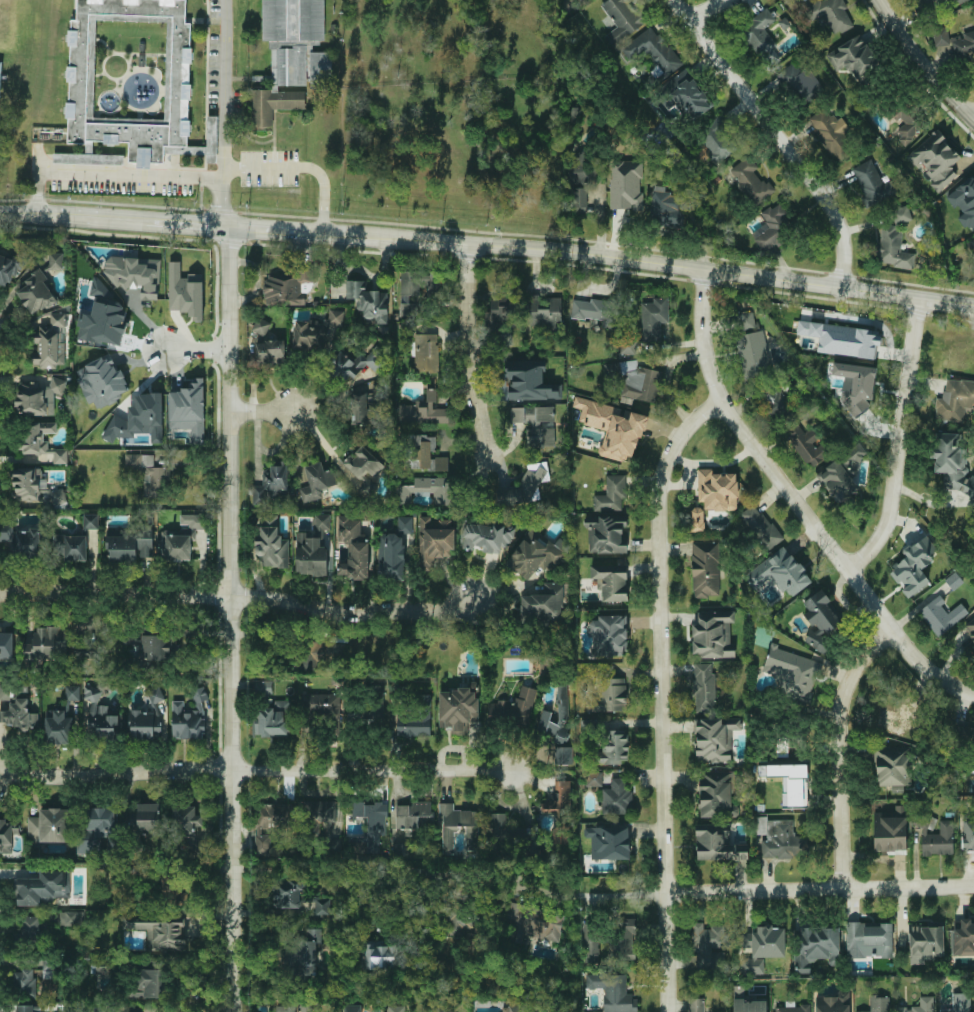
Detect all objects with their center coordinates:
building: (582, 0)
road: (710, 9)
building: (831, 15)
building: (623, 19)
building: (762, 38)
building: (953, 43)
building: (653, 50)
building: (287, 54)
building: (855, 58)
road: (923, 61)
building: (320, 67)
building: (81, 70)
building: (1, 77)
building: (801, 82)
building: (690, 95)
road: (223, 113)
road: (973, 114)
building: (909, 122)
building: (831, 133)
road: (779, 136)
building: (717, 141)
building: (88, 158)
building: (936, 159)
road: (302, 166)
road: (131, 174)
building: (751, 181)
building: (873, 183)
building: (625, 184)
road: (37, 192)
building: (579, 199)
building: (965, 202)
building: (666, 207)
building: (901, 215)
road: (73, 217)
road: (187, 224)
building: (771, 227)
road: (267, 230)
building: (971, 244)
building: (895, 248)
building: (55, 260)
road: (641, 260)
building: (10, 267)
building: (135, 274)
building: (288, 287)
building: (413, 291)
building: (185, 292)
building: (37, 293)
building: (368, 300)
building: (598, 311)
building: (527, 312)
building: (102, 317)
building: (654, 318)
building: (317, 332)
building: (843, 338)
building: (50, 342)
building: (266, 344)
building: (752, 346)
building: (627, 347)
road: (198, 349)
road: (469, 350)
building: (426, 352)
building: (355, 365)
building: (530, 380)
building: (636, 380)
road: (668, 380)
building: (102, 382)
building: (856, 385)
building: (38, 396)
building: (955, 400)
building: (778, 405)
building: (189, 409)
building: (362, 409)
road: (262, 411)
building: (423, 411)
building: (139, 419)
building: (537, 424)
building: (613, 427)
building: (41, 441)
road: (903, 442)
building: (810, 447)
building: (418, 451)
building: (363, 463)
building: (441, 463)
building: (952, 468)
building: (842, 472)
building: (149, 473)
building: (316, 481)
building: (28, 483)
building: (272, 483)
building: (526, 485)
building: (421, 489)
building: (454, 492)
building: (612, 493)
building: (58, 496)
building: (713, 496)
road: (798, 501)
building: (90, 521)
building: (760, 527)
building: (7, 531)
building: (607, 534)
building: (487, 536)
building: (182, 537)
building: (271, 541)
building: (435, 541)
building: (29, 543)
building: (71, 546)
building: (129, 546)
building: (312, 548)
building: (352, 548)
building: (393, 550)
building: (536, 553)
building: (913, 567)
building: (705, 569)
building: (780, 572)
building: (953, 581)
building: (611, 582)
road: (239, 595)
building: (544, 604)
building: (941, 615)
building: (822, 618)
road: (232, 619)
building: (971, 631)
building: (713, 633)
building: (609, 635)
building: (132, 639)
building: (47, 643)
building: (6, 647)
building: (156, 647)
building: (87, 651)
building: (312, 654)
building: (793, 672)
building: (703, 686)
building: (263, 687)
building: (611, 690)
building: (7, 691)
building: (72, 692)
building: (92, 693)
building: (153, 696)
road: (664, 696)
building: (323, 708)
building: (370, 708)
building: (458, 708)
building: (513, 709)
building: (19, 715)
building: (189, 717)
building: (557, 717)
building: (900, 718)
building: (273, 719)
building: (416, 719)
building: (102, 722)
building: (146, 723)
building: (588, 726)
building: (59, 728)
building: (716, 738)
building: (615, 746)
road: (842, 750)
building: (564, 755)
building: (893, 765)
road: (371, 770)
road: (115, 777)
building: (595, 779)
building: (789, 782)
building: (718, 793)
building: (617, 798)
building: (561, 810)
building: (324, 814)
building: (414, 814)
building: (145, 820)
building: (371, 820)
building: (101, 822)
building: (48, 825)
building: (458, 826)
building: (189, 827)
building: (890, 829)
building: (8, 834)
building: (935, 834)
building: (968, 839)
building: (782, 840)
building: (608, 842)
building: (359, 844)
building: (717, 844)
building: (399, 848)
road: (359, 871)
building: (171, 886)
building: (42, 888)
road: (780, 891)
building: (287, 893)
building: (322, 906)
building: (457, 917)
building: (70, 919)
building: (538, 925)
building: (29, 928)
building: (963, 937)
building: (622, 939)
building: (869, 939)
building: (925, 940)
building: (591, 942)
building: (709, 946)
building: (763, 946)
building: (817, 946)
building: (305, 951)
building: (379, 954)
building: (103, 966)
building: (48, 968)
building: (24, 981)
building: (146, 982)
building: (613, 992)
building: (833, 1003)
building: (959, 1003)
building: (878, 1004)
building: (696, 1005)
building: (749, 1005)
building: (921, 1005)
building: (793, 1007)
building: (29, 1008)
building: (286, 1008)
building: (352, 1008)
building: (396, 1008)
building: (516, 1009)

